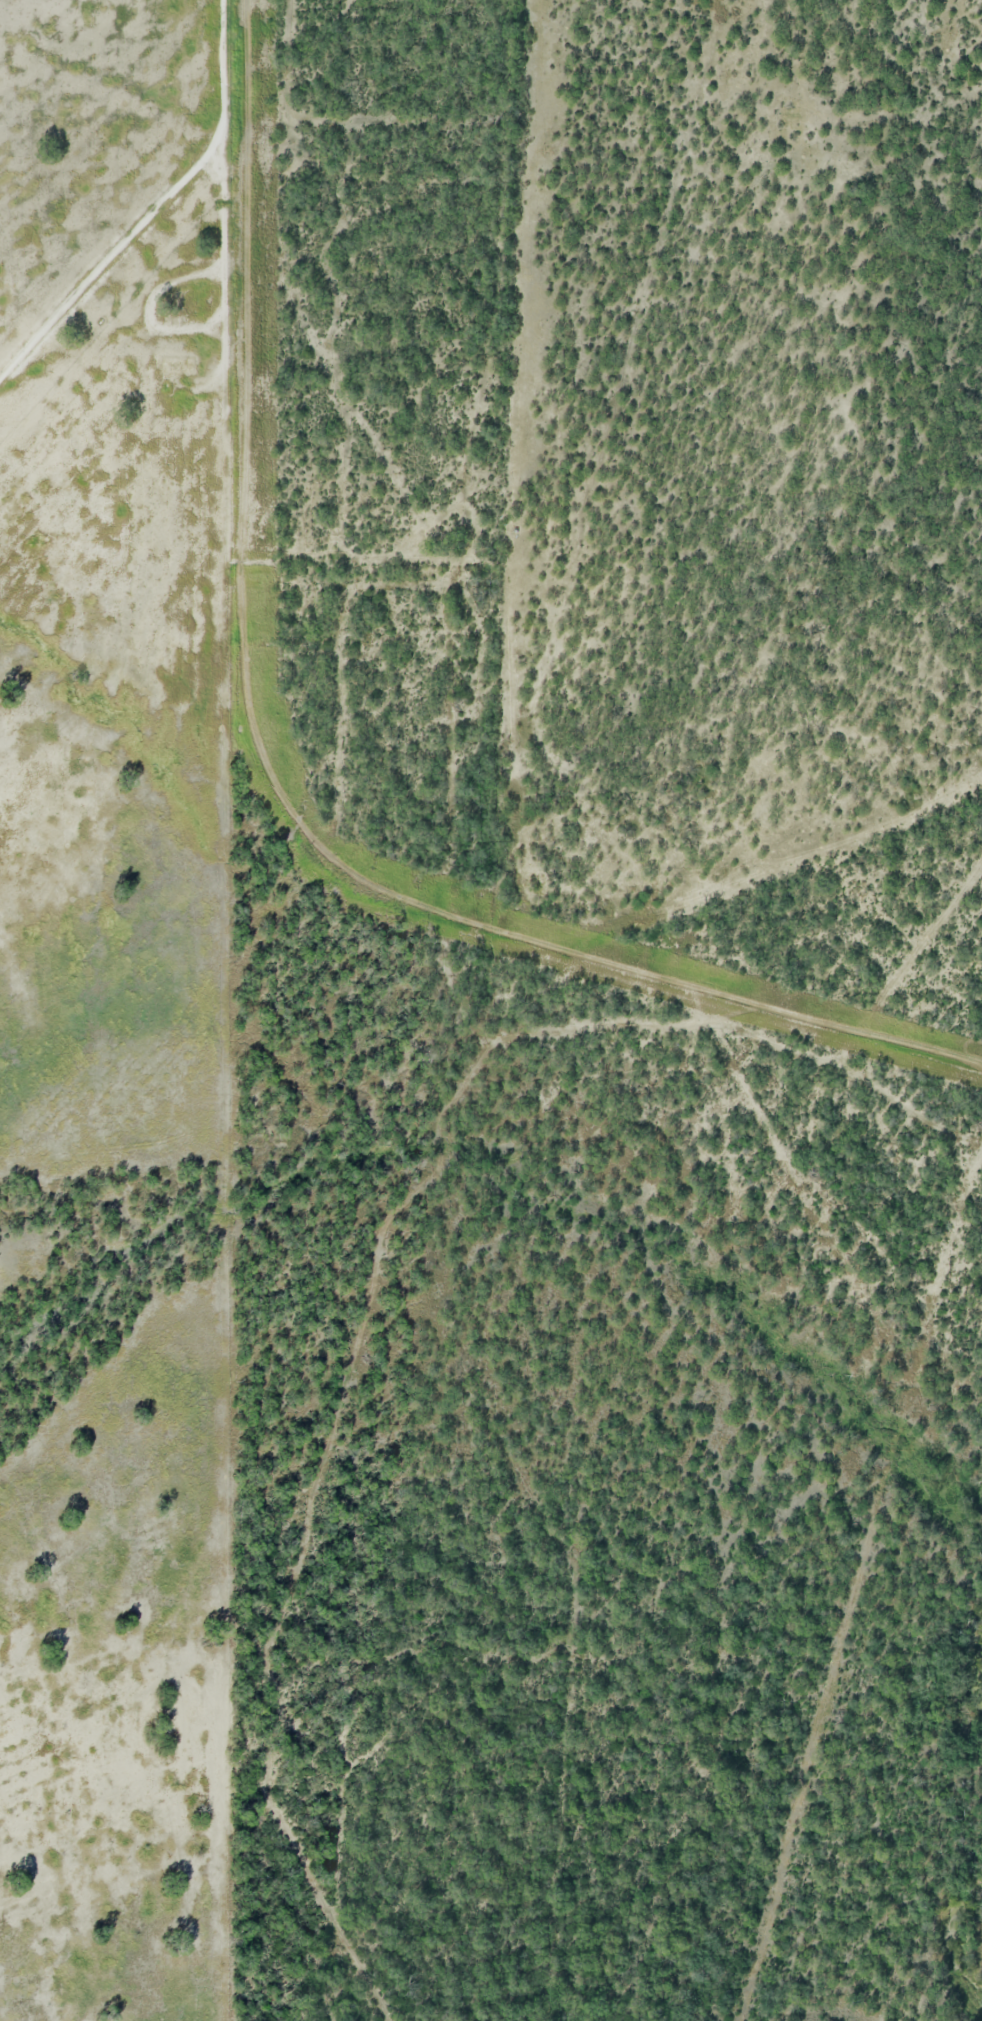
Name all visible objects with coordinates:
road: (145, 200)
road: (429, 717)
river: (965, 1684)
river: (973, 1902)
river: (960, 1966)

